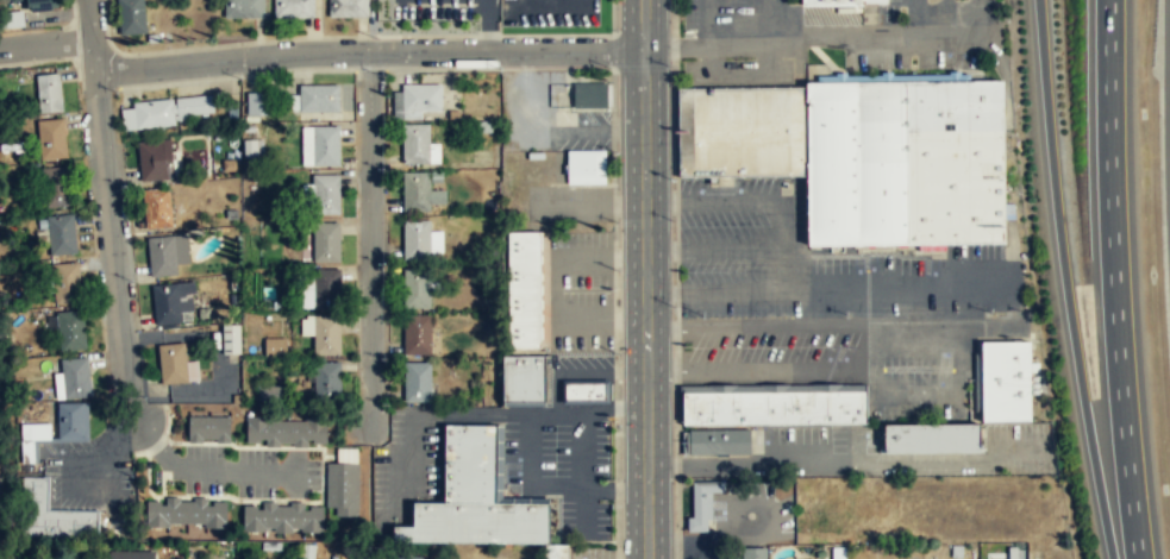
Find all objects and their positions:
building: (844, 1)
road: (574, 4)
building: (35, 5)
road: (488, 6)
building: (244, 7)
building: (348, 7)
building: (294, 8)
building: (131, 17)
road: (915, 17)
road: (977, 17)
building: (13, 18)
road: (778, 18)
road: (536, 19)
road: (707, 24)
road: (488, 31)
road: (877, 34)
road: (46, 44)
road: (717, 49)
road: (369, 51)
road: (711, 65)
road: (765, 65)
road: (327, 69)
building: (49, 92)
building: (590, 93)
building: (319, 96)
building: (421, 96)
building: (258, 101)
building: (193, 103)
building: (148, 113)
building: (742, 130)
building: (51, 137)
building: (415, 142)
building: (325, 144)
building: (251, 147)
building: (155, 158)
building: (908, 159)
building: (586, 165)
building: (55, 184)
building: (415, 189)
building: (326, 193)
building: (156, 206)
road: (111, 214)
building: (60, 233)
building: (417, 238)
building: (326, 240)
road: (368, 241)
building: (161, 255)
road: (644, 279)
road: (1112, 279)
building: (65, 281)
road: (1063, 281)
building: (326, 287)
building: (417, 287)
building: (525, 288)
building: (169, 299)
building: (70, 329)
building: (326, 333)
building: (417, 333)
building: (231, 340)
building: (275, 347)
building: (173, 362)
building: (75, 376)
building: (525, 377)
building: (326, 379)
building: (417, 379)
building: (1007, 379)
building: (586, 390)
building: (270, 392)
building: (775, 407)
building: (73, 422)
building: (208, 432)
building: (286, 433)
building: (934, 436)
building: (720, 440)
building: (29, 448)
road: (584, 451)
road: (528, 452)
road: (844, 461)
building: (470, 463)
road: (208, 469)
building: (342, 485)
building: (702, 503)
building: (186, 511)
road: (584, 511)
building: (50, 515)
building: (0, 516)
building: (282, 520)
building: (477, 522)
road: (732, 523)
road: (687, 545)
building: (556, 551)
building: (753, 552)
building: (1012, 553)
building: (130, 554)
building: (409, 557)

